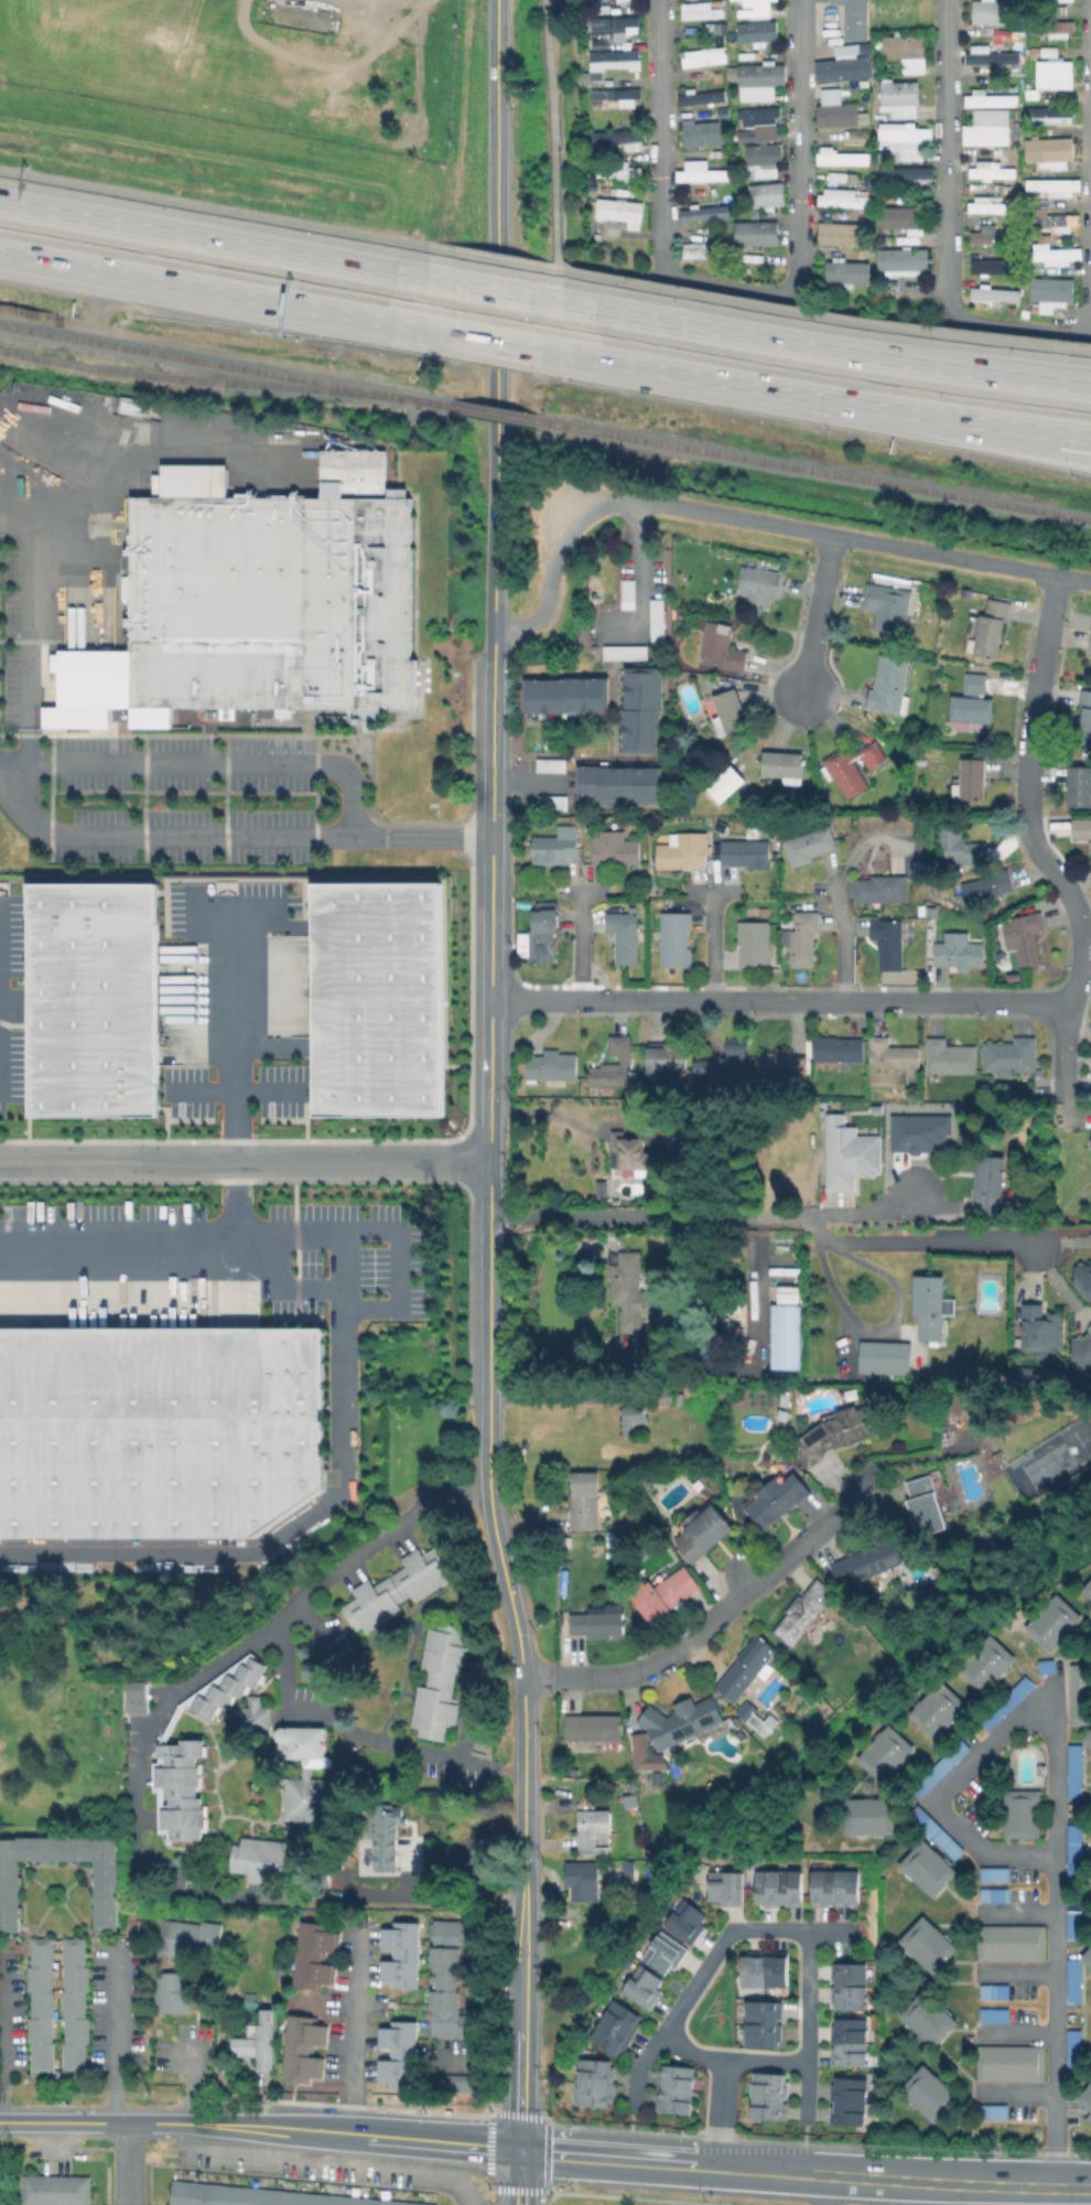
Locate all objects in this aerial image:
building: (625, 0)
building: (1056, 2)
building: (760, 6)
building: (705, 13)
building: (994, 14)
building: (857, 19)
building: (619, 28)
building: (1057, 30)
building: (760, 34)
building: (602, 47)
building: (905, 51)
building: (993, 57)
building: (707, 58)
building: (620, 60)
building: (845, 68)
building: (1057, 73)
building: (765, 80)
building: (616, 95)
building: (700, 97)
building: (898, 97)
building: (986, 99)
building: (836, 110)
building: (1046, 115)
building: (758, 119)
building: (986, 127)
building: (702, 132)
road: (553, 135)
building: (617, 139)
building: (903, 140)
building: (840, 158)
building: (759, 160)
building: (614, 170)
building: (989, 170)
building: (699, 172)
building: (908, 173)
building: (1052, 185)
building: (766, 194)
building: (840, 198)
building: (986, 206)
road: (215, 208)
building: (617, 211)
building: (703, 213)
building: (898, 216)
building: (1050, 218)
building: (753, 232)
building: (840, 233)
building: (985, 235)
road: (946, 237)
road: (213, 239)
building: (696, 250)
building: (1051, 256)
road: (494, 259)
building: (899, 260)
building: (990, 266)
building: (844, 271)
road: (738, 288)
road: (490, 290)
road: (215, 291)
building: (1048, 292)
building: (992, 293)
road: (495, 313)
road: (823, 316)
road: (494, 342)
road: (822, 348)
railway: (228, 364)
railway: (206, 381)
road: (725, 381)
building: (137, 407)
railway: (499, 415)
road: (992, 424)
road: (992, 437)
building: (356, 471)
railway: (814, 471)
road: (758, 520)
road: (636, 566)
building: (760, 588)
building: (260, 604)
building: (888, 609)
road: (814, 614)
building: (655, 620)
road: (34, 621)
building: (986, 632)
building: (1089, 643)
building: (722, 648)
building: (623, 652)
building: (1090, 653)
building: (889, 688)
building: (564, 695)
building: (973, 707)
building: (638, 710)
building: (731, 712)
building: (1083, 721)
building: (548, 764)
road: (210, 765)
building: (852, 766)
road: (493, 768)
building: (788, 770)
road: (528, 781)
building: (618, 784)
building: (972, 784)
building: (730, 787)
building: (1080, 788)
building: (550, 800)
building: (577, 819)
building: (1082, 833)
road: (226, 836)
road: (1034, 842)
building: (555, 846)
building: (614, 848)
building: (809, 849)
building: (962, 849)
building: (682, 851)
building: (746, 852)
building: (919, 867)
building: (986, 885)
building: (879, 888)
road: (840, 896)
road: (239, 912)
building: (541, 934)
building: (625, 934)
building: (802, 937)
building: (676, 938)
road: (577, 942)
building: (1025, 942)
road: (709, 943)
building: (754, 944)
building: (890, 947)
building: (960, 955)
building: (1013, 976)
road: (1, 991)
building: (366, 996)
building: (106, 999)
road: (779, 1001)
road: (490, 1034)
road: (242, 1036)
building: (839, 1048)
building: (1011, 1058)
building: (741, 1060)
building: (951, 1061)
building: (615, 1064)
building: (668, 1064)
building: (553, 1065)
building: (890, 1065)
building: (784, 1066)
building: (709, 1071)
road: (244, 1093)
building: (916, 1131)
building: (1089, 1145)
building: (630, 1150)
building: (851, 1157)
road: (245, 1161)
building: (987, 1188)
road: (863, 1211)
road: (773, 1215)
road: (170, 1257)
road: (406, 1259)
building: (1082, 1276)
road: (489, 1282)
road: (289, 1288)
building: (630, 1289)
building: (786, 1293)
building: (930, 1304)
road: (887, 1329)
building: (1039, 1329)
building: (786, 1336)
building: (1081, 1352)
building: (885, 1358)
building: (660, 1396)
road: (549, 1401)
building: (953, 1405)
building: (629, 1419)
building: (841, 1431)
building: (159, 1433)
building: (585, 1499)
building: (776, 1499)
building: (926, 1508)
building: (704, 1531)
road: (271, 1547)
building: (868, 1561)
building: (1088, 1586)
building: (398, 1588)
building: (666, 1594)
building: (806, 1612)
road: (714, 1621)
building: (597, 1623)
building: (1052, 1623)
building: (986, 1661)
building: (746, 1668)
building: (441, 1680)
building: (228, 1686)
building: (138, 1696)
building: (1081, 1696)
building: (1007, 1702)
building: (937, 1707)
building: (752, 1714)
building: (256, 1717)
building: (681, 1720)
building: (596, 1728)
road: (363, 1731)
road: (1008, 1731)
building: (1088, 1733)
building: (885, 1750)
building: (644, 1753)
building: (940, 1767)
building: (1077, 1771)
building: (307, 1775)
road: (525, 1776)
road: (136, 1789)
building: (181, 1789)
building: (1022, 1814)
building: (872, 1818)
railway: (756, 1821)
building: (390, 1826)
building: (593, 1828)
building: (937, 1832)
building: (413, 1835)
road: (453, 1850)
building: (1073, 1852)
building: (263, 1859)
building: (929, 1868)
building: (995, 1873)
building: (1089, 1879)
building: (778, 1885)
building: (836, 1886)
building: (727, 1887)
building: (585, 1890)
building: (107, 1895)
building: (995, 1895)
building: (687, 1918)
building: (1077, 1925)
road: (726, 1935)
building: (191, 1937)
building: (927, 1943)
building: (1013, 1944)
building: (663, 1951)
building: (313, 1954)
building: (403, 1955)
building: (1088, 1955)
building: (765, 1969)
building: (281, 1971)
building: (451, 1980)
building: (1076, 1981)
building: (851, 1984)
building: (641, 1986)
building: (173, 1991)
building: (996, 1992)
building: (42, 2003)
building: (76, 2003)
building: (993, 2014)
building: (928, 2016)
road: (1055, 2020)
building: (760, 2022)
building: (613, 2025)
building: (850, 2041)
road: (8, 2042)
road: (121, 2043)
building: (260, 2043)
building: (303, 2048)
road: (358, 2050)
building: (1073, 2051)
building: (401, 2054)
building: (1011, 2063)
road: (638, 2067)
road: (188, 2079)
building: (593, 2082)
building: (456, 2083)
building: (676, 2089)
road: (1015, 2091)
building: (929, 2093)
building: (1087, 2096)
building: (768, 2097)
building: (850, 2101)
building: (992, 2110)
road: (722, 2113)
building: (1089, 2122)
road: (131, 2123)
road: (391, 2142)
traffic signals: (520, 2153)
road: (127, 2164)
road: (804, 2174)
road: (443, 2176)
road: (520, 2179)
road: (488, 2186)
building: (56, 2190)
road: (825, 2191)
building: (264, 2196)
road: (497, 2197)

